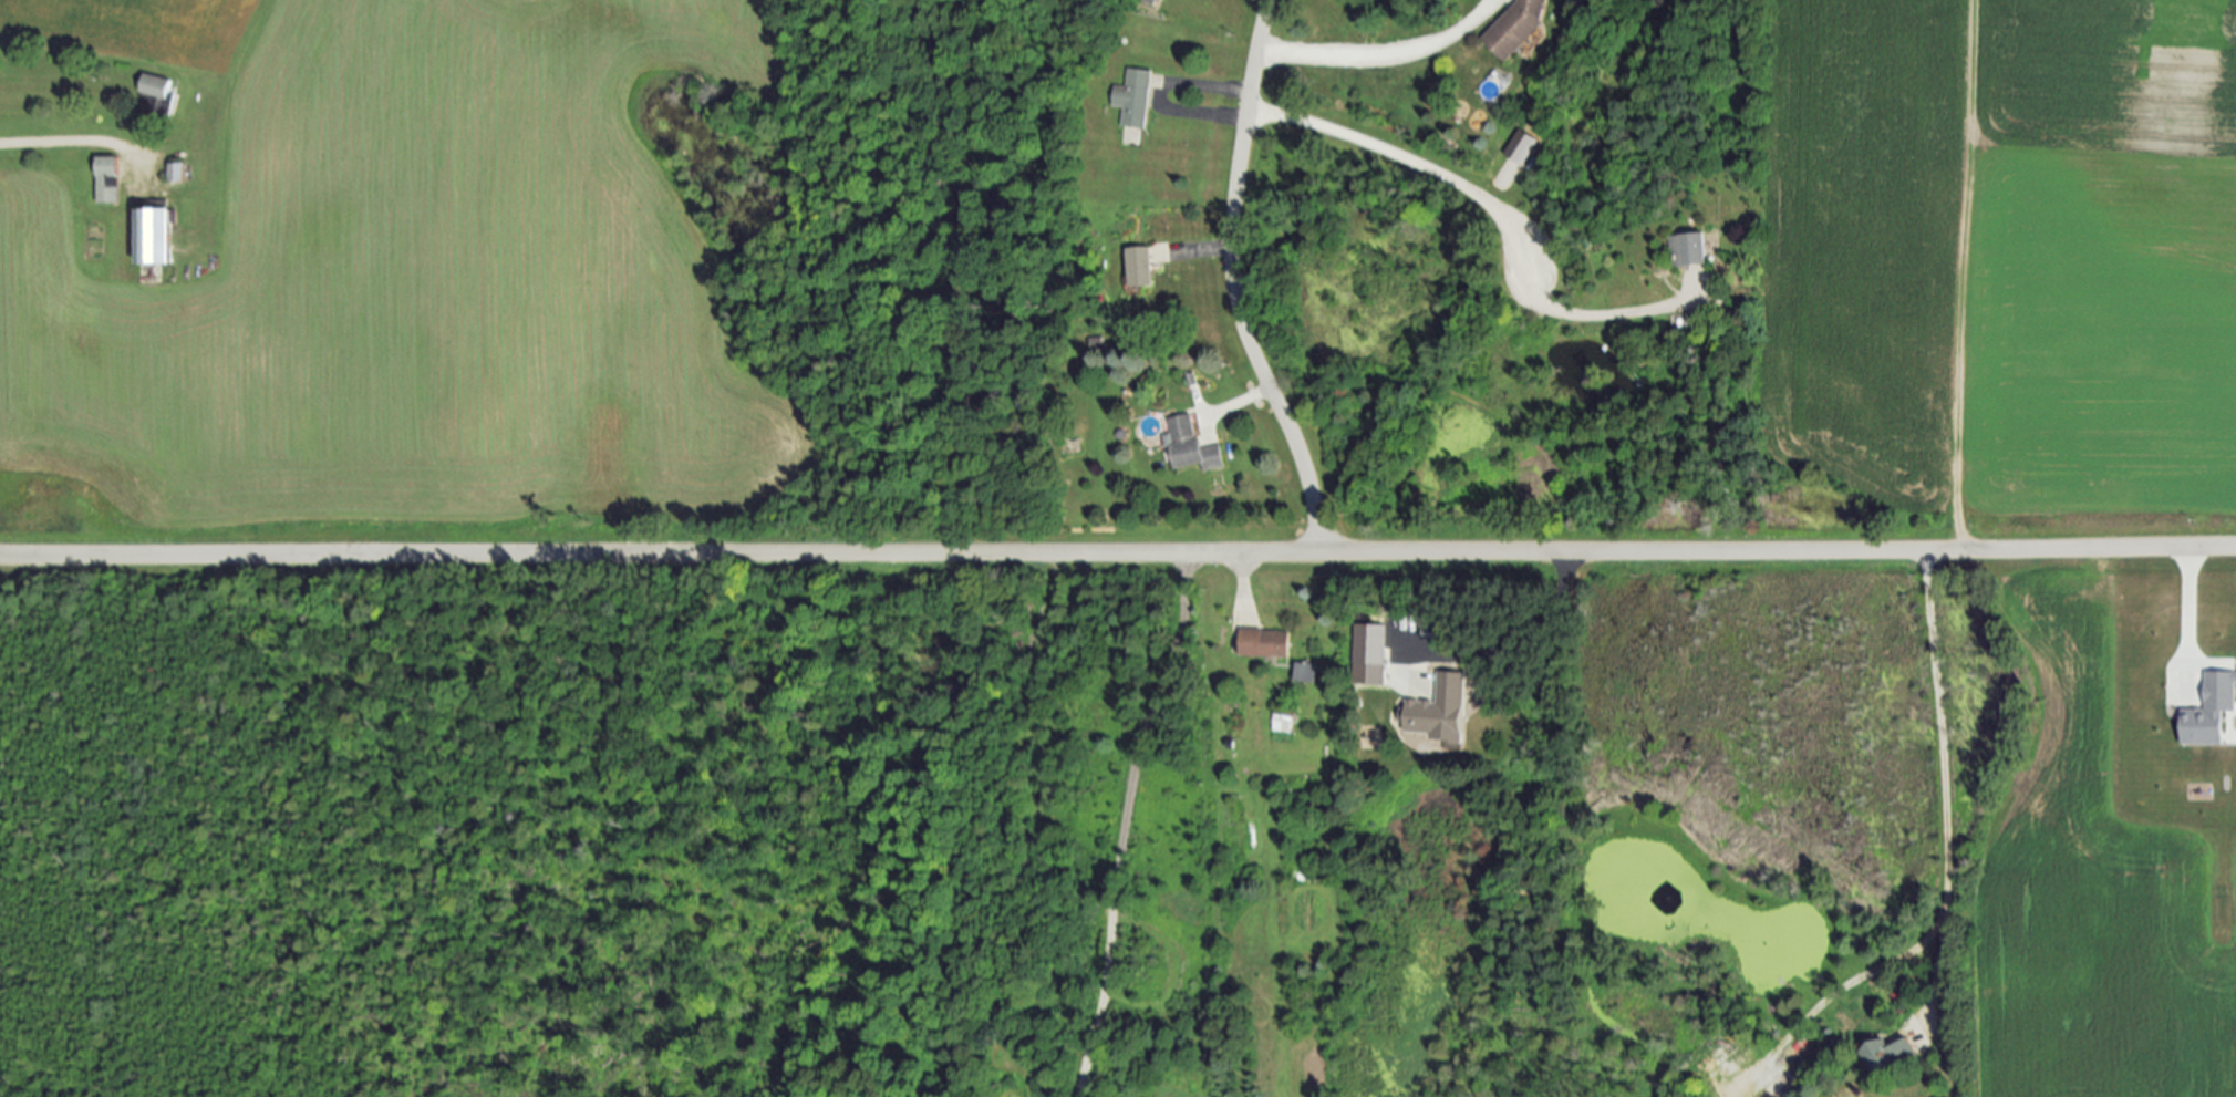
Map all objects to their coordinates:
building: (1575, 4)
building: (1519, 27)
road: (1384, 59)
road: (1218, 85)
building: (155, 90)
building: (1135, 96)
road: (74, 141)
building: (1522, 145)
building: (178, 170)
building: (108, 178)
road: (1456, 185)
building: (155, 234)
building: (1690, 248)
road: (1203, 253)
building: (1140, 266)
road: (1233, 281)
road: (1241, 400)
building: (1190, 445)
road: (1118, 551)
road: (1241, 581)
road: (2187, 617)
road: (1509, 640)
building: (1264, 642)
building: (1371, 654)
building: (1306, 672)
building: (1441, 711)
building: (2212, 711)
building: (1282, 723)
road: (1943, 785)
road: (1127, 822)
road: (1819, 998)
building: (1888, 1055)

